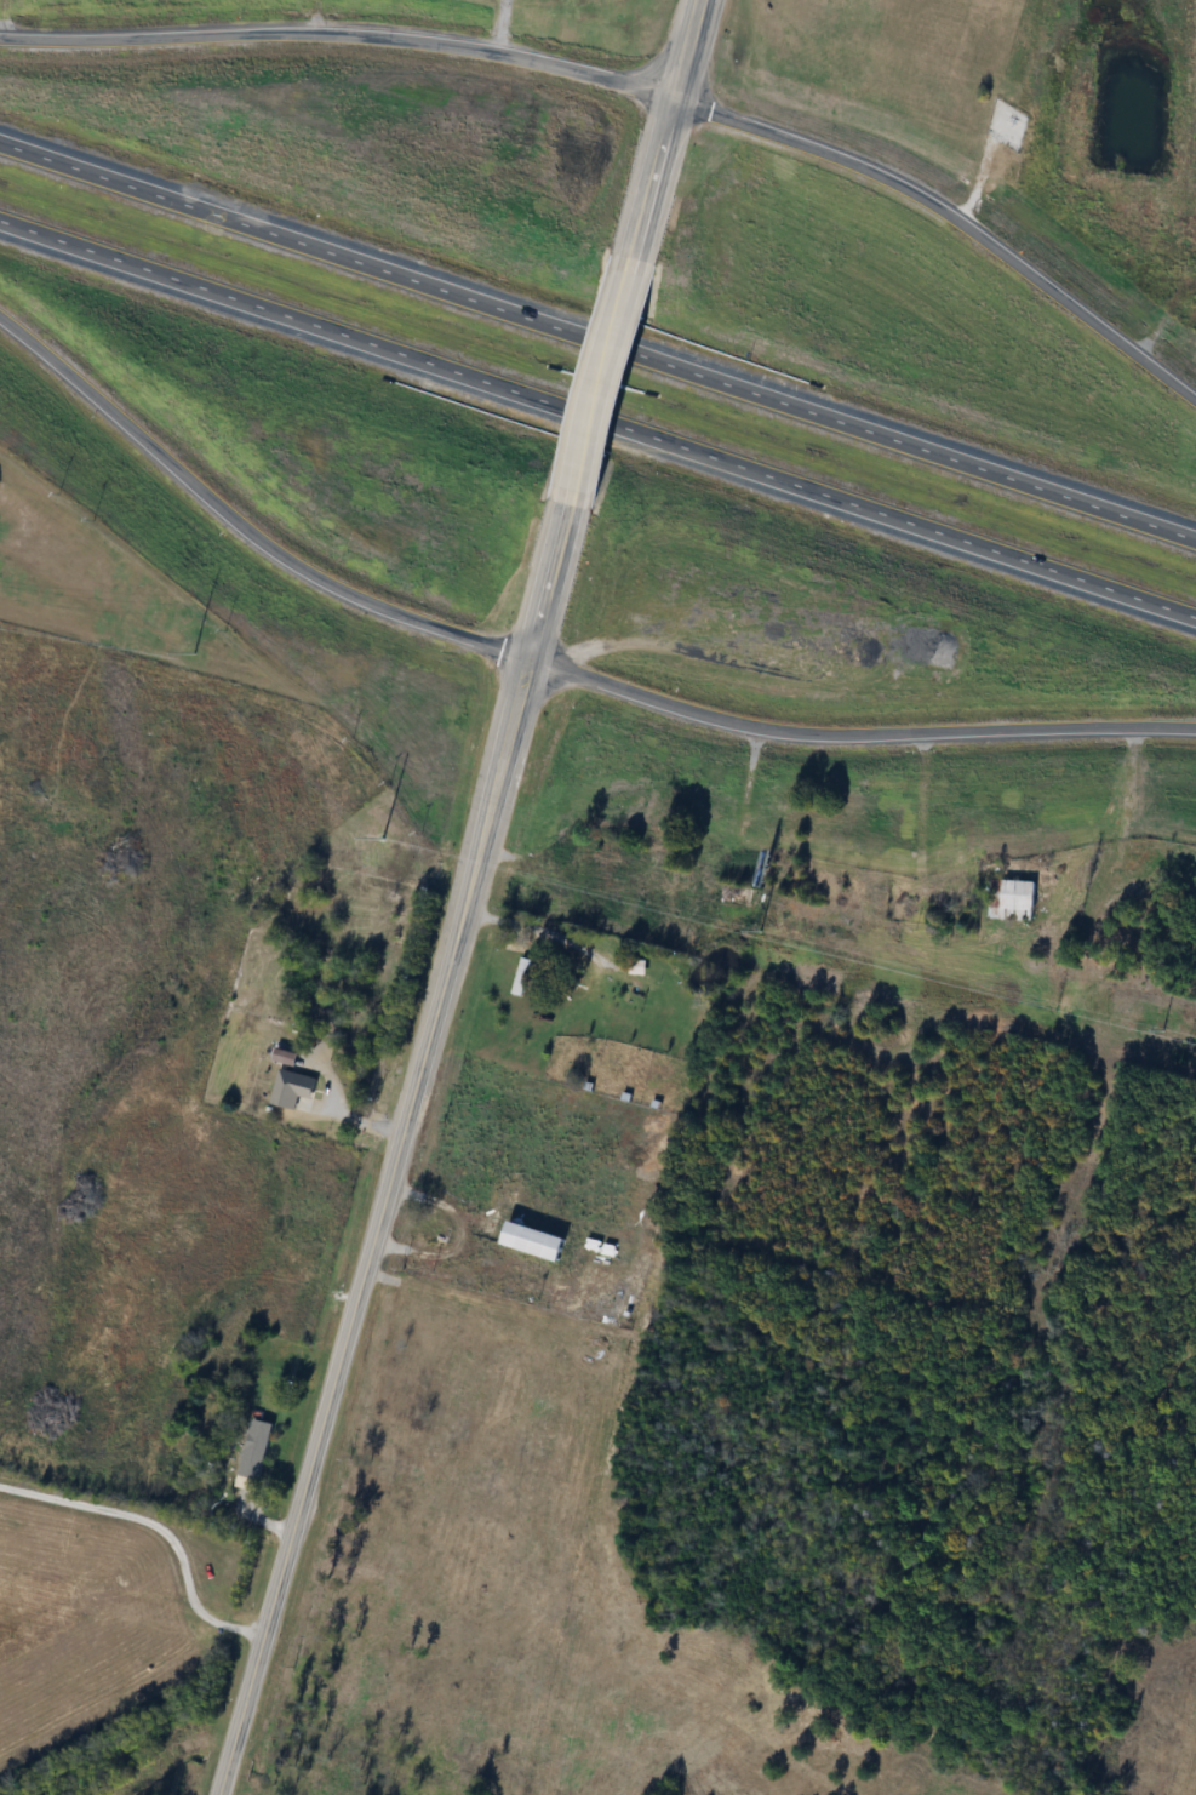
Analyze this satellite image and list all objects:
road: (341, 25)
road: (666, 128)
road: (952, 213)
road: (597, 339)
road: (599, 381)
road: (597, 417)
road: (240, 522)
power tower: (194, 653)
road: (854, 734)
power tower: (383, 836)
building: (1012, 899)
road: (532, 924)
power tower: (760, 931)
building: (321, 976)
building: (522, 976)
power tower: (1163, 1029)
road: (394, 1150)
building: (517, 1252)
building: (216, 1365)
building: (252, 1453)
road: (159, 1526)

